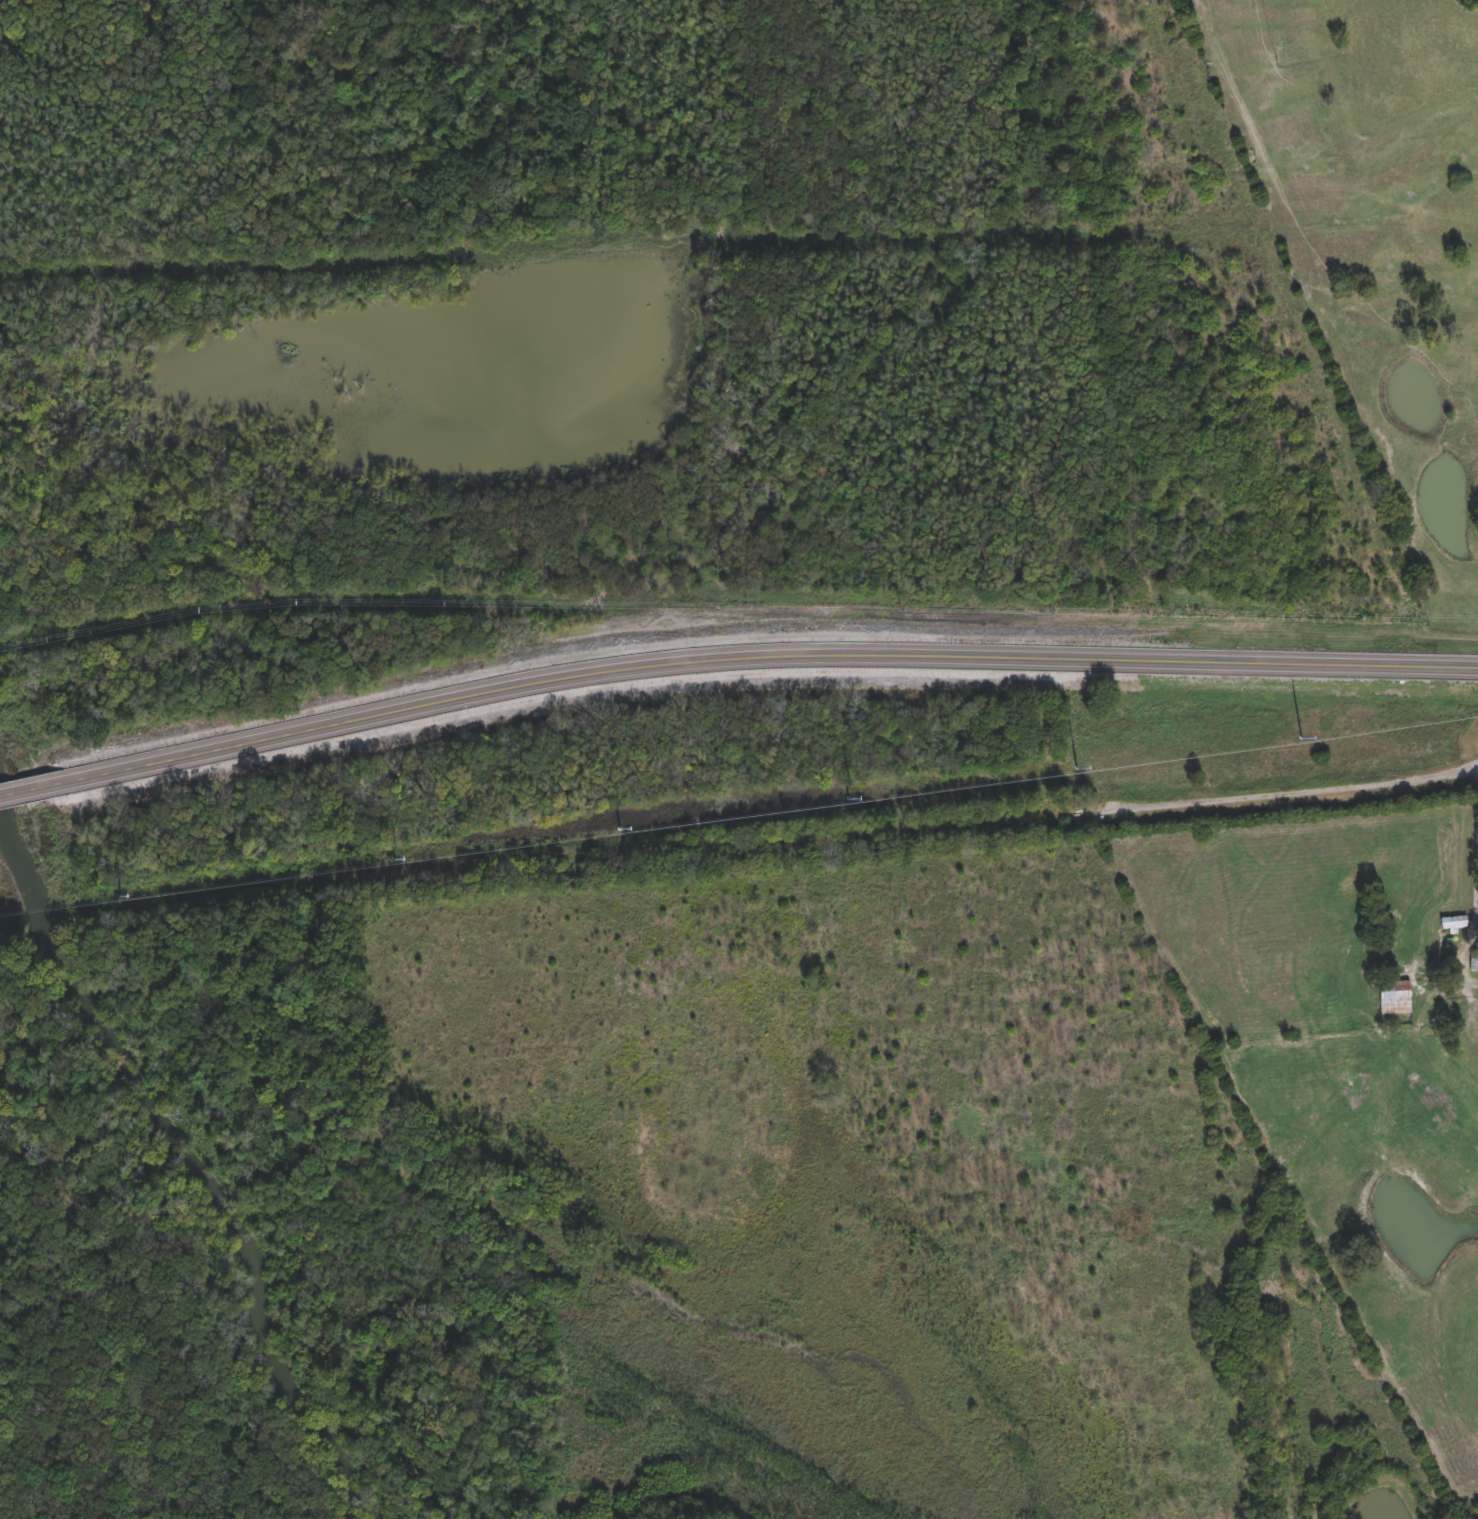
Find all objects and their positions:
road: (732, 660)
road: (1280, 793)
road: (1474, 839)
building: (1453, 919)
building: (1474, 955)
building: (1396, 989)

